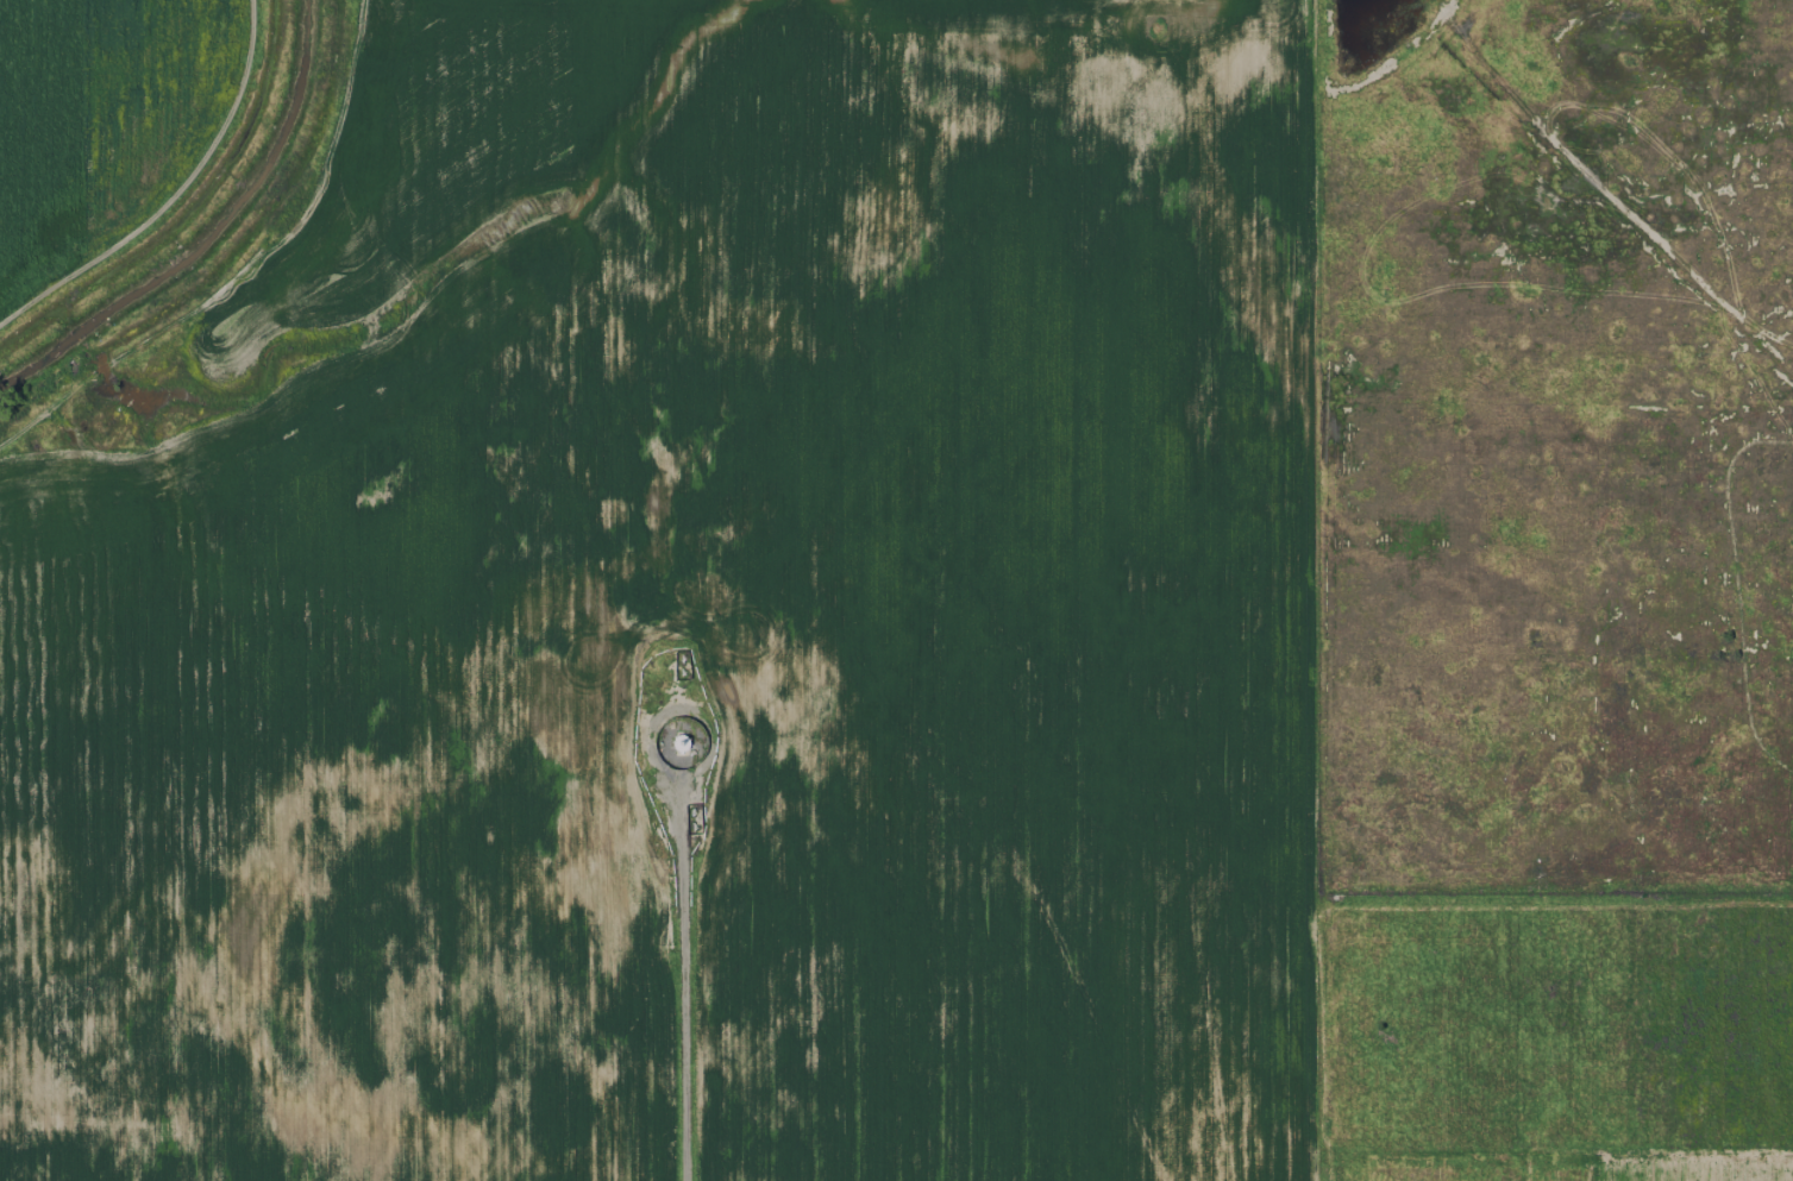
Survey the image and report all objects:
river: (199, 218)
road: (682, 980)

